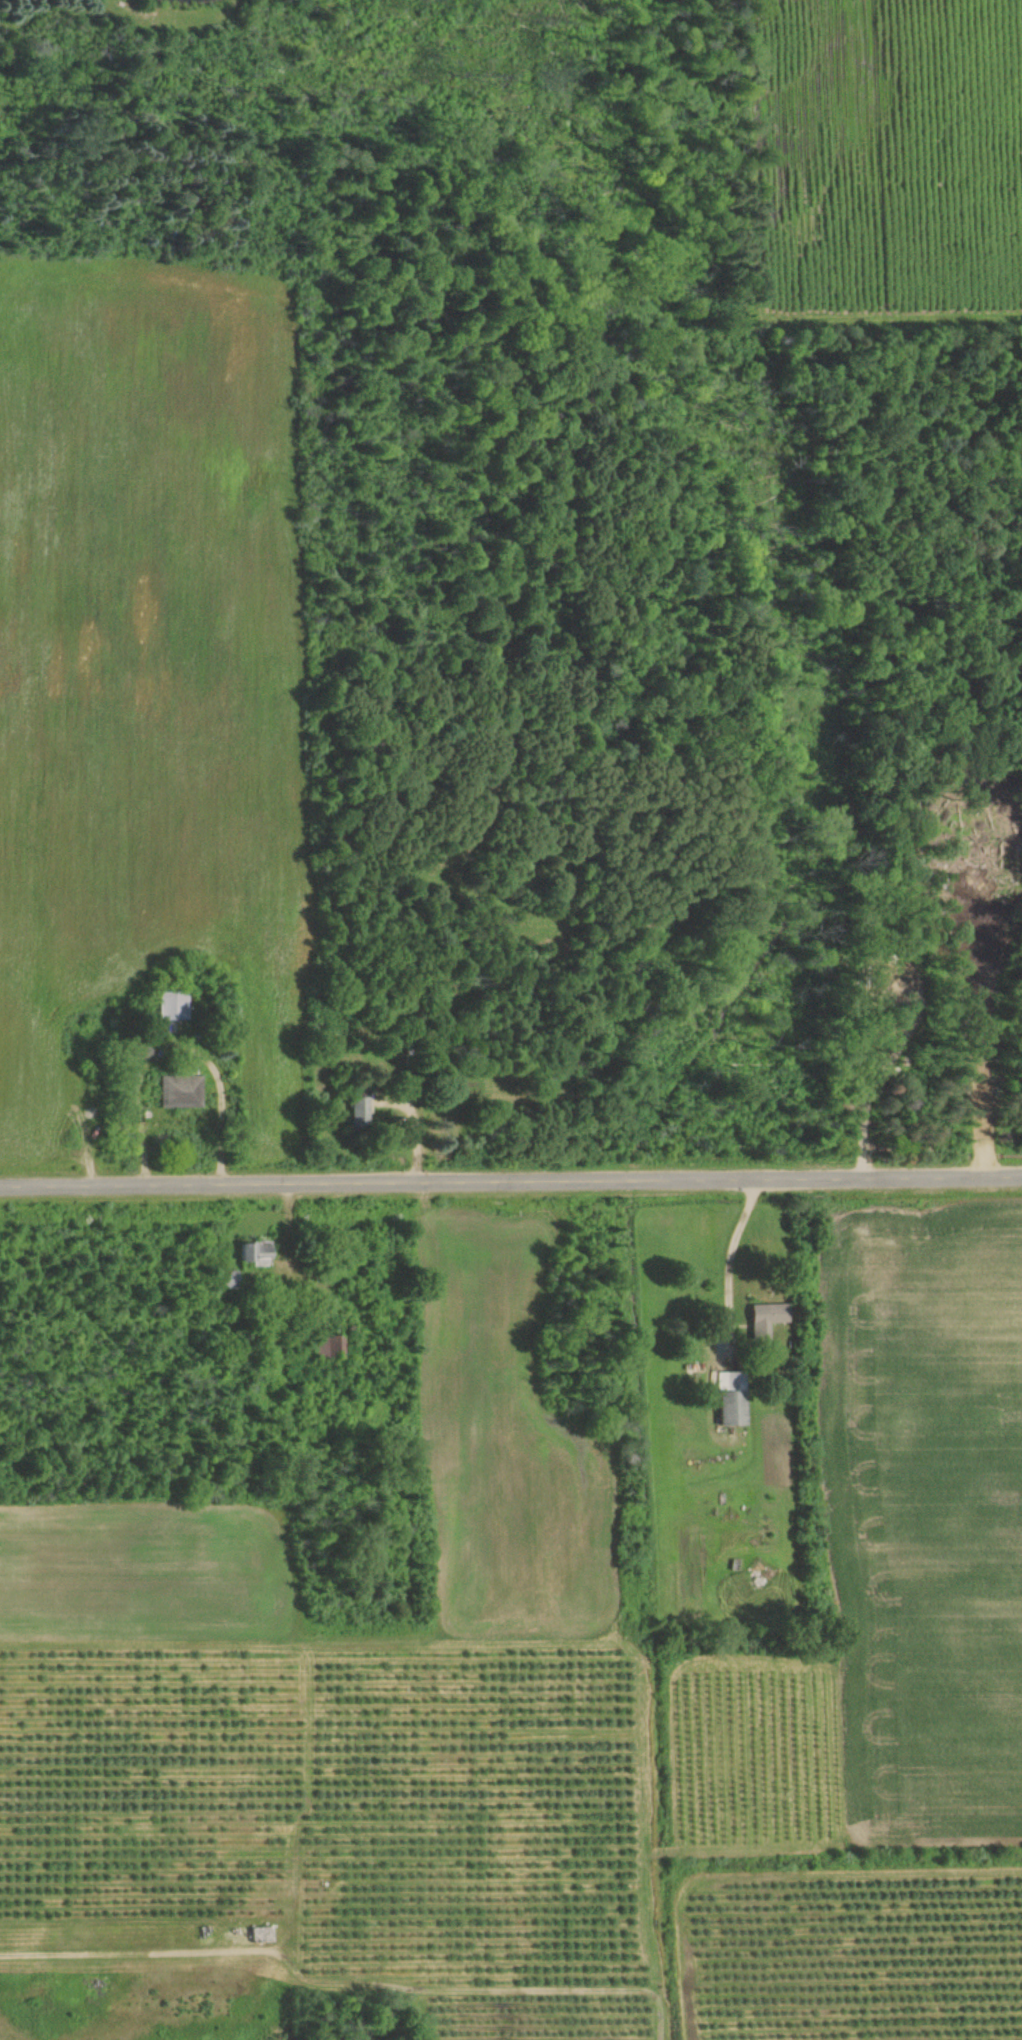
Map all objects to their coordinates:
building: (171, 1004)
road: (174, 1042)
building: (179, 1091)
building: (353, 1108)
road: (416, 1132)
road: (510, 1178)
building: (253, 1248)
road: (727, 1256)
building: (761, 1318)
building: (724, 1400)
crop: (506, 1443)
crop: (934, 1510)
crop: (140, 1568)
crop: (147, 1771)
crop: (476, 1805)
crop: (861, 1954)
crop: (540, 2019)

